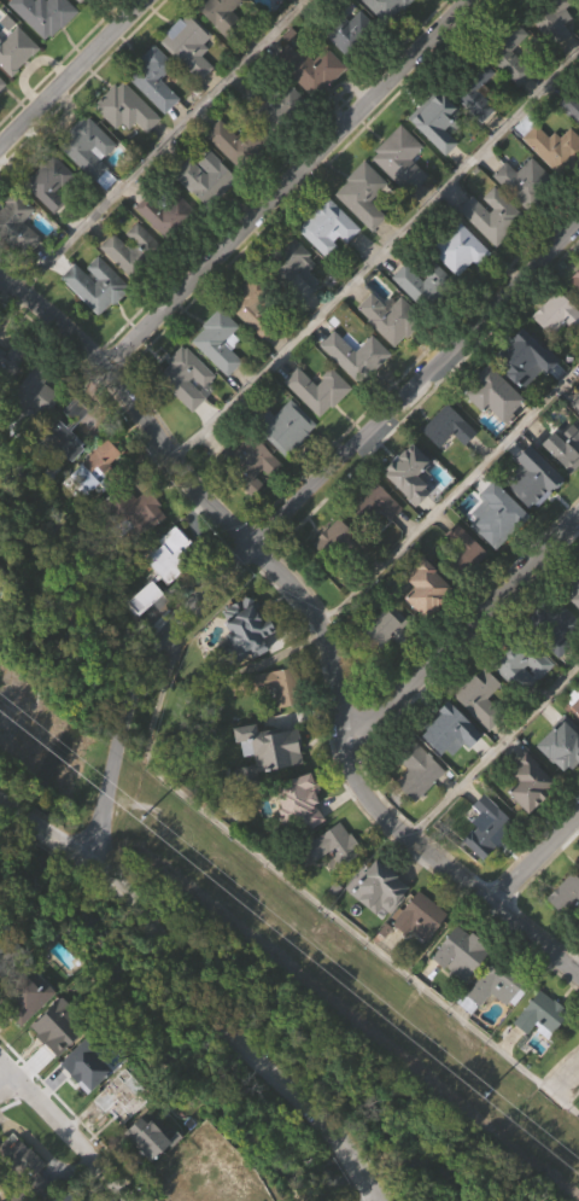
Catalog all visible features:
building: (81, 1)
building: (119, 1)
building: (302, 5)
building: (388, 7)
building: (425, 7)
building: (314, 12)
building: (78, 13)
building: (45, 14)
building: (262, 14)
building: (224, 17)
building: (551, 18)
building: (344, 28)
building: (386, 34)
building: (222, 45)
building: (189, 46)
building: (45, 49)
building: (16, 51)
building: (508, 52)
building: (555, 57)
building: (311, 69)
building: (350, 69)
road: (74, 74)
building: (156, 78)
building: (191, 82)
building: (2, 83)
building: (470, 84)
building: (511, 92)
building: (572, 104)
building: (311, 105)
building: (276, 106)
building: (127, 109)
building: (157, 116)
building: (1, 119)
building: (439, 127)
building: (475, 127)
building: (240, 142)
building: (283, 142)
building: (551, 145)
building: (128, 146)
road: (159, 148)
building: (90, 151)
building: (438, 159)
building: (402, 161)
building: (206, 180)
building: (234, 180)
building: (51, 183)
building: (527, 183)
building: (555, 185)
road: (287, 187)
building: (92, 188)
building: (364, 196)
building: (402, 197)
building: (168, 215)
building: (206, 215)
building: (495, 216)
building: (525, 217)
building: (53, 221)
building: (17, 226)
building: (328, 228)
building: (365, 232)
building: (456, 247)
building: (133, 250)
building: (166, 250)
building: (492, 251)
road: (373, 257)
building: (18, 262)
building: (329, 266)
building: (292, 268)
building: (421, 276)
building: (574, 279)
building: (96, 285)
building: (133, 286)
building: (461, 286)
building: (257, 305)
building: (296, 305)
building: (556, 313)
building: (391, 319)
building: (423, 320)
building: (96, 321)
building: (220, 342)
building: (253, 345)
building: (557, 351)
building: (391, 355)
building: (525, 355)
building: (357, 356)
building: (12, 362)
building: (187, 378)
building: (220, 379)
building: (36, 390)
building: (320, 390)
building: (525, 391)
building: (356, 392)
building: (487, 395)
building: (10, 403)
building: (578, 407)
building: (187, 415)
building: (283, 426)
building: (449, 426)
building: (318, 427)
building: (72, 431)
building: (493, 431)
building: (36, 432)
building: (565, 448)
building: (287, 462)
building: (246, 464)
building: (414, 465)
building: (449, 465)
building: (93, 471)
building: (66, 479)
building: (536, 483)
building: (566, 484)
road: (450, 499)
building: (250, 500)
building: (375, 501)
building: (98, 503)
building: (129, 506)
building: (411, 511)
road: (279, 514)
building: (497, 514)
building: (533, 514)
building: (376, 538)
building: (340, 542)
building: (135, 548)
building: (464, 552)
building: (499, 552)
building: (172, 554)
building: (341, 579)
building: (432, 587)
building: (571, 588)
building: (171, 591)
building: (467, 593)
building: (554, 622)
road: (315, 623)
building: (428, 625)
building: (386, 626)
road: (466, 631)
building: (146, 634)
building: (0, 649)
building: (521, 659)
building: (388, 664)
building: (558, 665)
building: (246, 666)
building: (273, 684)
building: (485, 699)
building: (572, 699)
building: (521, 701)
building: (277, 722)
building: (446, 725)
building: (482, 735)
building: (563, 740)
building: (269, 750)
road: (493, 752)
building: (451, 768)
building: (417, 769)
building: (562, 781)
building: (271, 783)
building: (531, 783)
building: (305, 797)
building: (419, 809)
road: (11, 814)
power tower: (141, 817)
building: (531, 820)
building: (487, 824)
road: (46, 836)
building: (300, 840)
building: (335, 846)
road: (533, 862)
building: (489, 864)
building: (334, 882)
building: (379, 884)
road: (304, 894)
building: (563, 894)
building: (421, 916)
building: (380, 926)
building: (567, 934)
building: (460, 950)
building: (10, 952)
building: (421, 954)
road: (171, 956)
road: (574, 966)
building: (495, 986)
building: (461, 991)
building: (29, 999)
building: (542, 1014)
building: (497, 1024)
building: (63, 1031)
building: (33, 1034)
building: (542, 1050)
building: (62, 1056)
building: (88, 1062)
road: (565, 1078)
road: (280, 1080)
road: (10, 1088)
power tower: (485, 1098)
building: (117, 1102)
building: (87, 1103)
road: (68, 1131)
building: (116, 1138)
building: (147, 1139)
road: (340, 1143)
building: (27, 1167)
building: (215, 1168)
building: (150, 1173)
building: (18, 1188)
building: (72, 1195)

